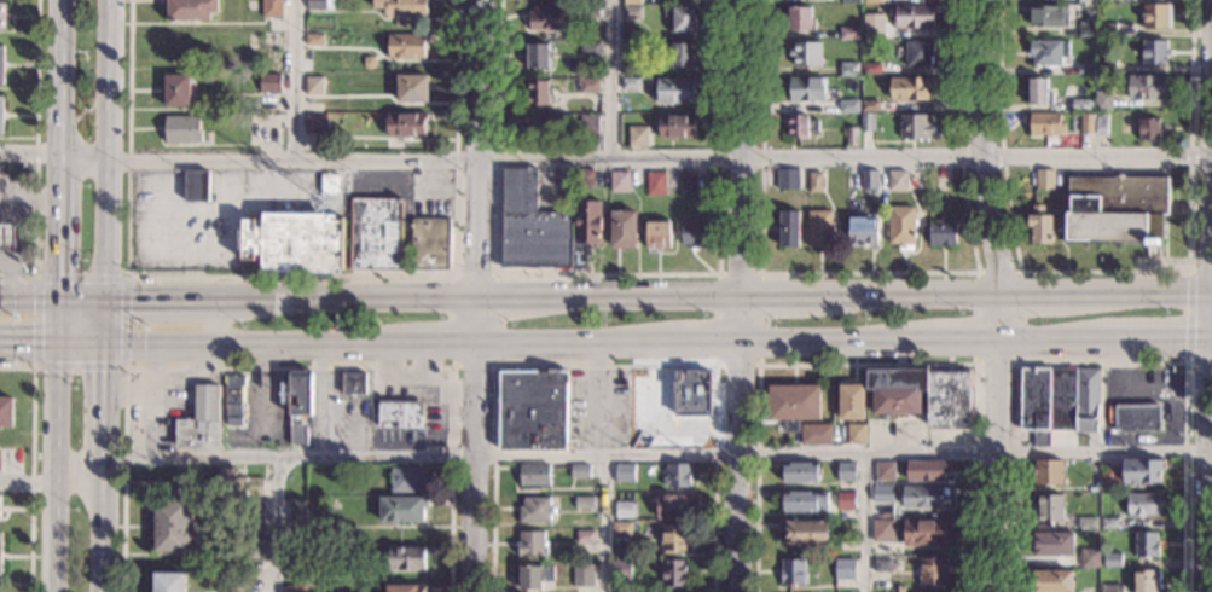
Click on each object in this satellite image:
building: (1086, 0)
building: (851, 1)
building: (872, 1)
building: (631, 2)
building: (320, 4)
building: (272, 7)
building: (191, 8)
building: (401, 8)
building: (590, 11)
building: (631, 11)
building: (915, 14)
building: (1048, 14)
building: (1156, 16)
building: (2, 17)
building: (545, 17)
building: (679, 17)
building: (799, 18)
building: (872, 22)
building: (1086, 29)
building: (1107, 29)
building: (849, 33)
building: (871, 33)
building: (313, 39)
building: (406, 45)
building: (632, 46)
building: (588, 47)
building: (1155, 51)
building: (805, 52)
building: (1048, 52)
building: (680, 53)
building: (918, 54)
building: (537, 56)
building: (1, 65)
building: (1085, 66)
building: (1106, 66)
building: (871, 68)
building: (849, 69)
road: (57, 79)
road: (105, 80)
road: (296, 80)
road: (608, 80)
building: (271, 82)
building: (630, 83)
building: (313, 85)
building: (590, 85)
building: (1148, 85)
building: (412, 86)
building: (910, 87)
building: (674, 88)
building: (807, 88)
building: (176, 89)
building: (538, 91)
building: (1038, 92)
building: (1103, 100)
building: (1079, 104)
building: (848, 105)
building: (870, 105)
building: (1, 112)
building: (868, 121)
building: (1086, 122)
building: (315, 123)
building: (1045, 123)
building: (1102, 123)
building: (405, 124)
building: (587, 124)
building: (674, 124)
building: (800, 124)
building: (543, 126)
building: (916, 127)
building: (1149, 128)
building: (182, 129)
building: (271, 135)
building: (638, 135)
building: (852, 135)
road: (980, 145)
road: (741, 146)
road: (474, 147)
road: (28, 155)
road: (36, 156)
road: (80, 158)
road: (131, 161)
road: (684, 161)
building: (1044, 176)
road: (271, 178)
building: (585, 178)
building: (788, 179)
building: (870, 179)
building: (898, 179)
road: (56, 180)
building: (619, 180)
building: (656, 181)
building: (816, 181)
building: (688, 182)
road: (156, 185)
building: (327, 185)
building: (195, 186)
road: (263, 196)
building: (1117, 207)
road: (214, 209)
road: (12, 210)
parking lot: (209, 214)
road: (1211, 222)
building: (1039, 224)
road: (24, 225)
building: (544, 226)
building: (901, 226)
building: (788, 227)
building: (819, 227)
road: (104, 228)
building: (622, 228)
building: (863, 231)
building: (941, 232)
building: (376, 233)
building: (657, 233)
building: (695, 234)
building: (7, 238)
building: (295, 242)
building: (430, 244)
road: (175, 248)
road: (54, 249)
traffic signals: (54, 272)
road: (1102, 272)
road: (1200, 272)
road: (868, 273)
road: (607, 274)
road: (288, 275)
road: (124, 277)
road: (7, 278)
road: (901, 291)
road: (1030, 291)
road: (1136, 291)
road: (1211, 292)
road: (771, 294)
road: (27, 296)
road: (470, 296)
traffic signals: (54, 297)
road: (79, 297)
traffic signals: (104, 298)
traffic signals: (129, 298)
road: (153, 298)
road: (1185, 317)
road: (54, 318)
road: (817, 338)
road: (947, 338)
road: (1033, 338)
road: (28, 339)
traffic signals: (31, 339)
traffic signals: (56, 339)
road: (80, 339)
traffic signals: (104, 339)
road: (247, 339)
road: (556, 339)
road: (689, 339)
road: (1138, 339)
road: (430, 341)
road: (1211, 341)
road: (1017, 362)
road: (1030, 362)
road: (866, 364)
road: (1199, 364)
road: (756, 366)
road: (286, 367)
road: (494, 367)
road: (605, 367)
traffic signals: (103, 372)
building: (352, 383)
building: (895, 388)
building: (691, 391)
building: (300, 393)
building: (233, 396)
building: (950, 397)
building: (1059, 400)
building: (851, 401)
building: (791, 404)
road: (1101, 406)
building: (532, 410)
building: (5, 413)
building: (399, 413)
building: (1136, 417)
building: (201, 422)
building: (816, 433)
building: (854, 434)
building: (297, 435)
road: (996, 440)
road: (736, 442)
road: (1208, 442)
road: (470, 443)
road: (102, 445)
road: (599, 453)
building: (0, 463)
road: (31, 464)
road: (53, 465)
building: (926, 469)
building: (579, 470)
building: (885, 470)
building: (1142, 470)
building: (846, 471)
building: (1048, 471)
building: (624, 472)
building: (799, 472)
building: (1109, 475)
building: (532, 476)
building: (675, 476)
road: (1210, 476)
building: (408, 478)
building: (238, 483)
building: (882, 494)
building: (924, 495)
building: (845, 500)
building: (584, 501)
building: (805, 501)
building: (1143, 504)
building: (673, 505)
building: (400, 507)
building: (1048, 507)
building: (535, 509)
building: (624, 509)
building: (300, 511)
building: (253, 520)
road: (860, 521)
road: (605, 522)
building: (1108, 522)
road: (276, 523)
building: (1086, 523)
building: (170, 526)
building: (621, 527)
building: (882, 529)
building: (804, 530)
building: (923, 532)
building: (585, 535)
building: (673, 538)
building: (1051, 542)
building: (532, 544)
building: (1146, 545)
building: (0, 553)
building: (405, 558)
building: (1089, 558)
building: (1112, 559)
building: (881, 564)
building: (620, 568)
building: (843, 568)
building: (933, 570)
building: (791, 571)
building: (673, 573)
building: (582, 574)
building: (533, 575)
building: (1050, 580)
building: (1144, 580)
building: (168, 581)
building: (405, 587)
building: (1110, 587)
building: (295, 588)

